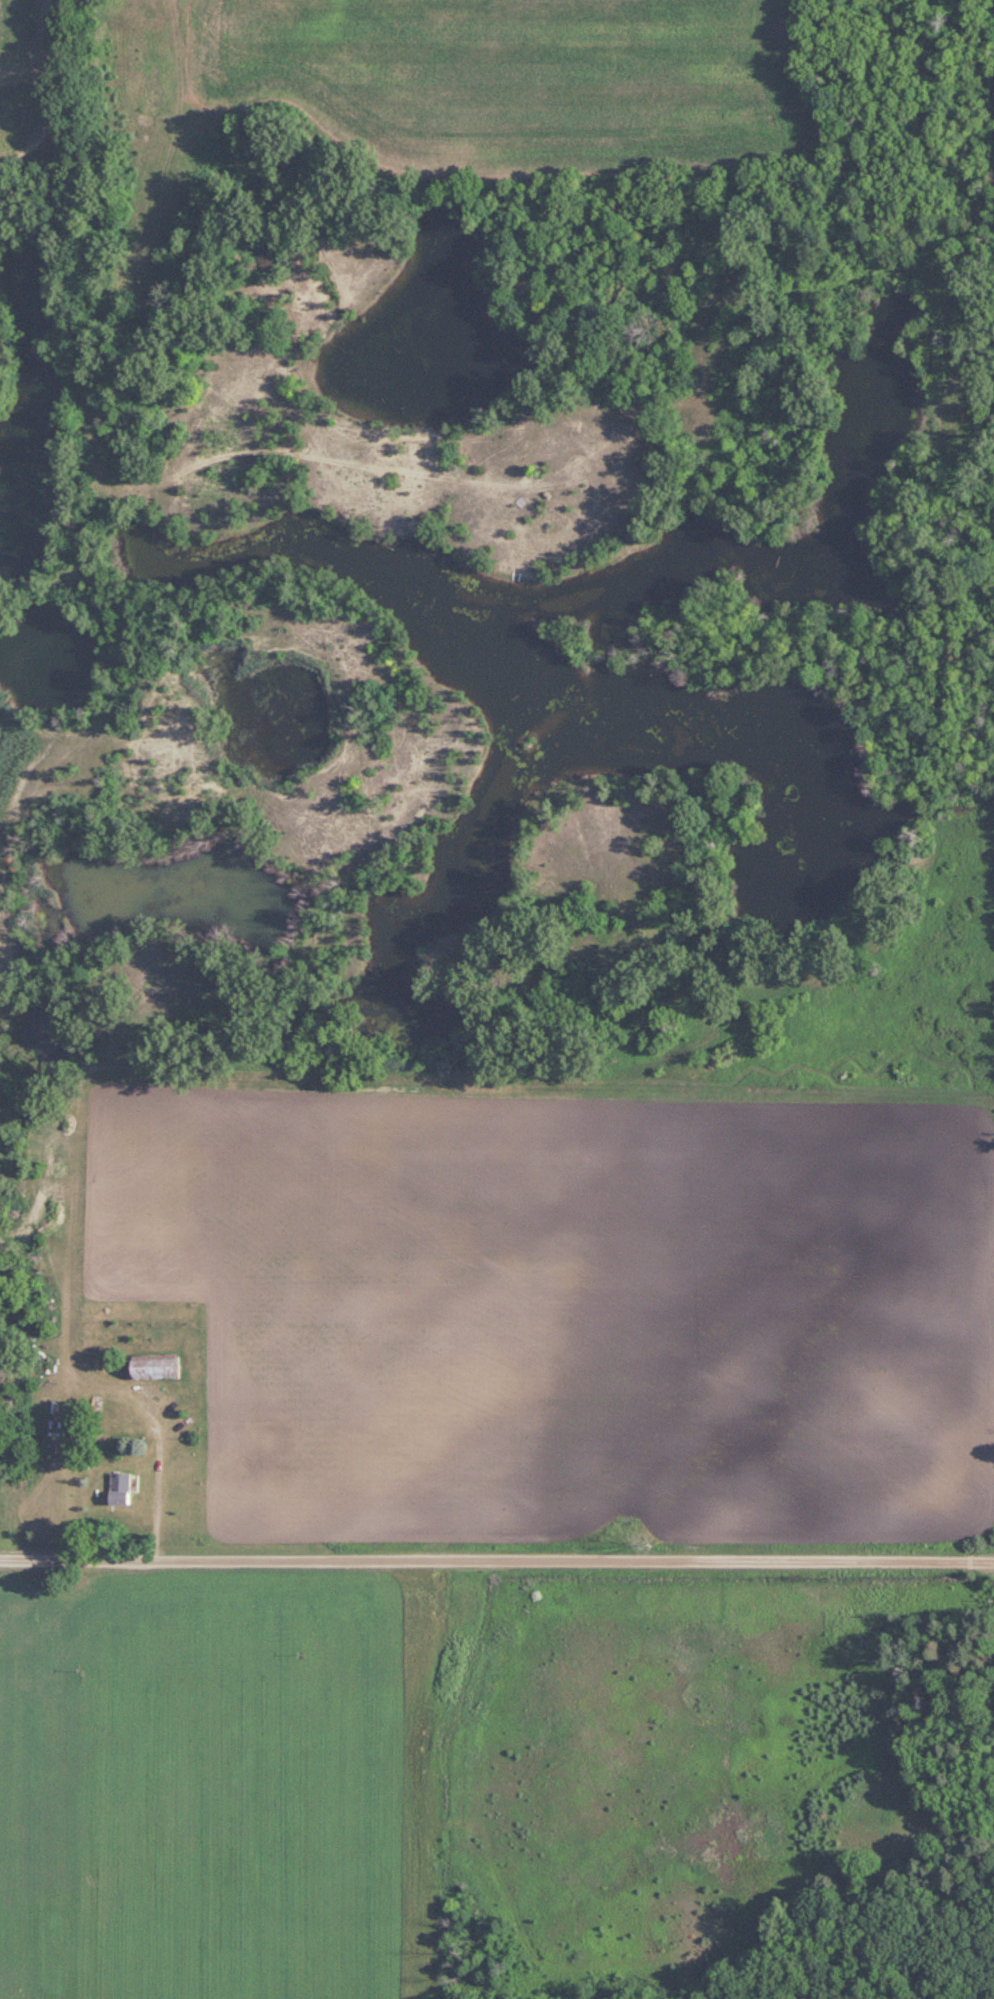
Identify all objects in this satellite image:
road: (208, 75)
building: (80, 630)
road: (75, 740)
building: (151, 1366)
road: (159, 1481)
building: (120, 1488)
road: (497, 1560)

